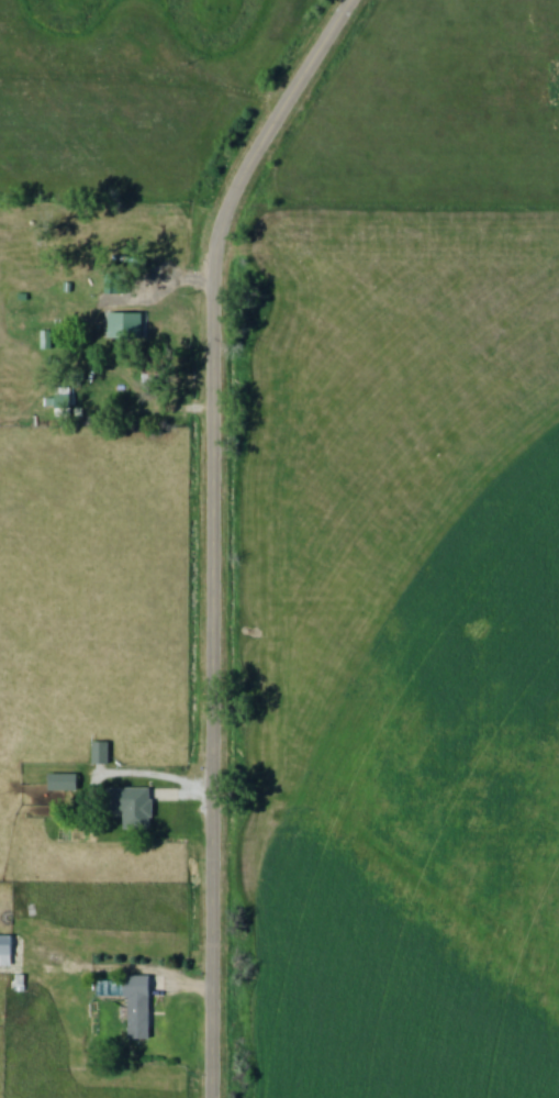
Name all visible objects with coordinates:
building: (118, 285)
building: (127, 326)
road: (215, 532)
building: (101, 753)
building: (65, 783)
building: (138, 805)
building: (8, 943)
building: (139, 1008)

